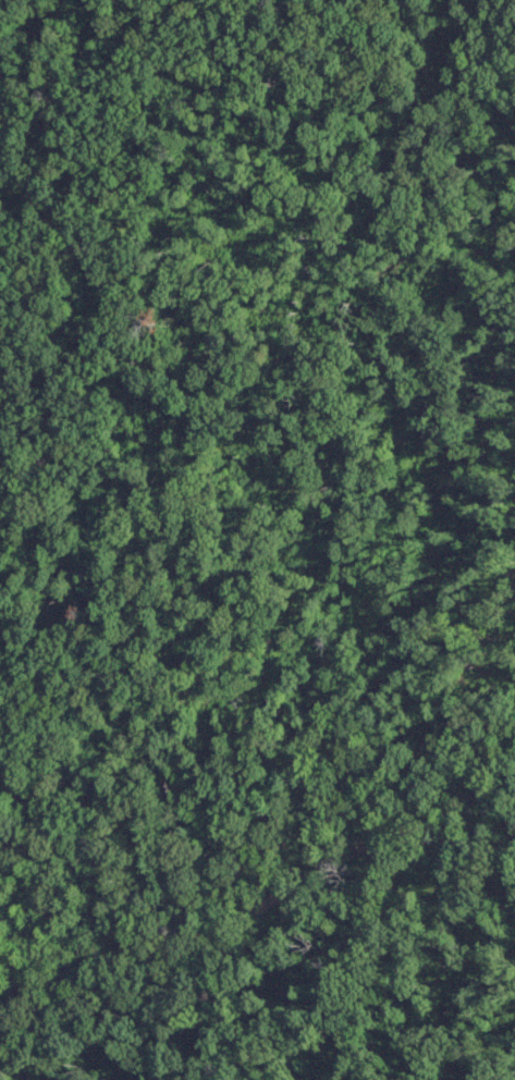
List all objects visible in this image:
road: (257, 891)

